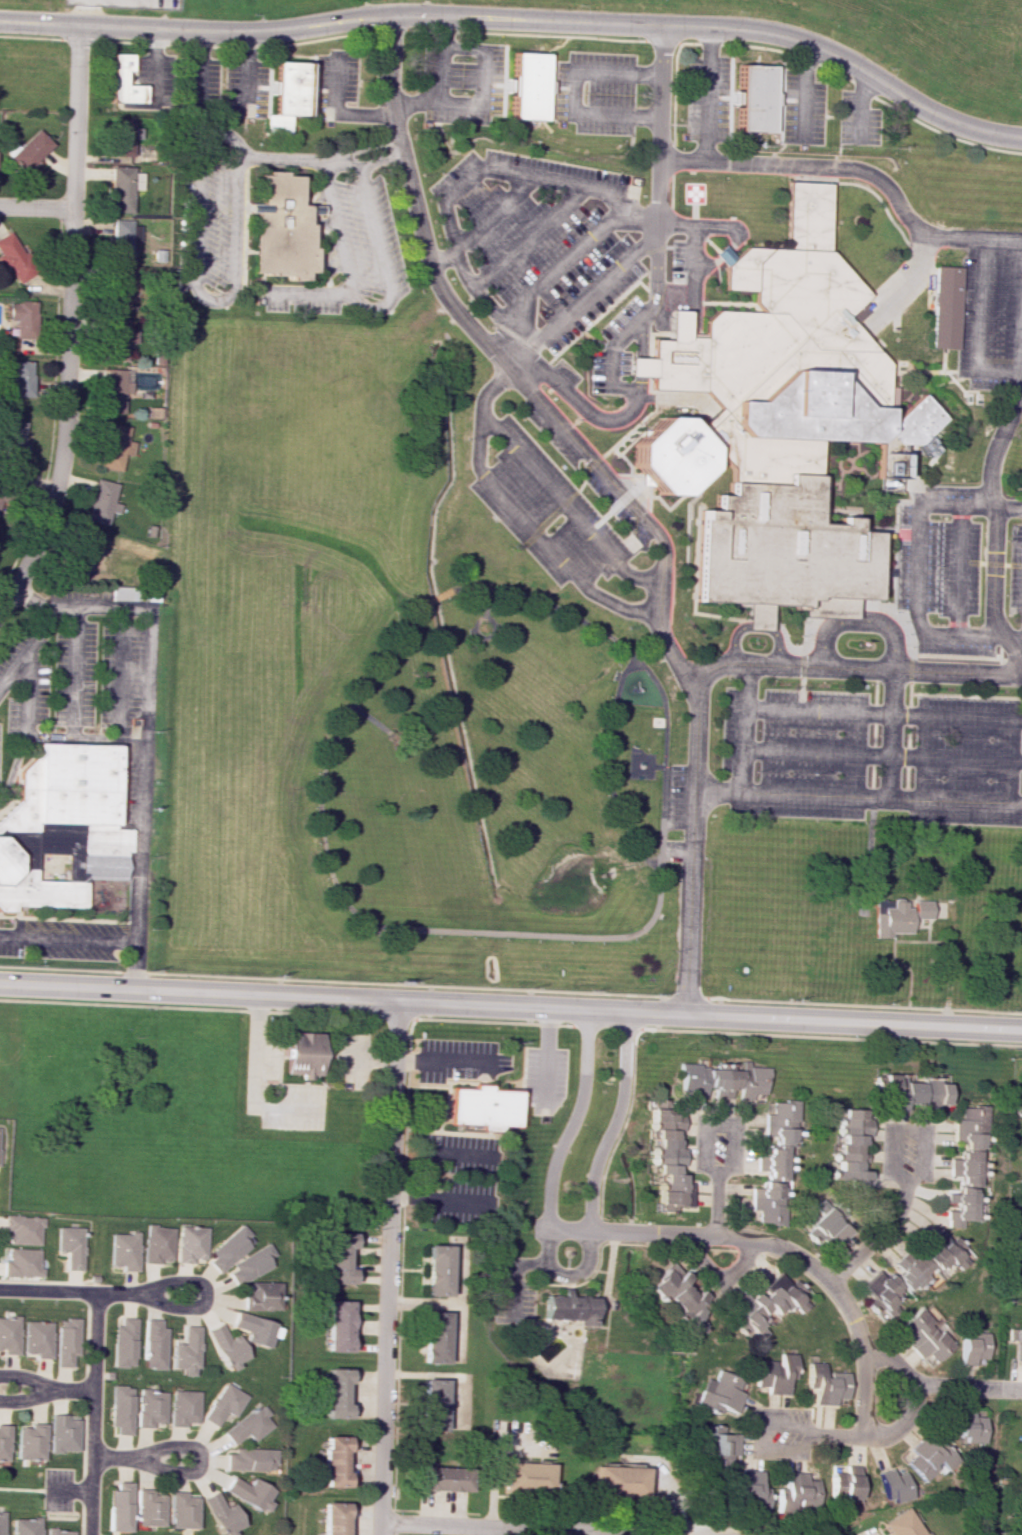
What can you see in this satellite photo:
road: (87, 12)
road: (522, 17)
road: (442, 31)
road: (31, 37)
road: (77, 39)
road: (647, 40)
road: (118, 41)
road: (154, 43)
road: (176, 44)
road: (199, 45)
road: (223, 46)
road: (243, 48)
road: (294, 55)
road: (153, 65)
road: (796, 69)
road: (483, 75)
building: (121, 80)
parking lot: (461, 82)
parking lot: (201, 84)
building: (524, 84)
parking lot: (337, 85)
road: (730, 86)
road: (803, 89)
road: (571, 91)
parking lot: (593, 91)
road: (851, 91)
road: (674, 92)
road: (708, 94)
building: (283, 95)
building: (753, 97)
parking lot: (708, 98)
road: (859, 106)
parking lot: (802, 108)
road: (219, 109)
road: (338, 109)
road: (778, 114)
road: (74, 115)
road: (831, 115)
parking lot: (857, 121)
road: (680, 123)
road: (839, 125)
building: (122, 137)
road: (361, 147)
building: (27, 150)
road: (282, 157)
road: (673, 158)
road: (363, 165)
road: (836, 169)
road: (865, 172)
road: (867, 187)
building: (120, 189)
road: (672, 192)
helipad: (697, 194)
road: (4, 205)
road: (40, 207)
parking lot: (208, 213)
road: (482, 221)
road: (694, 223)
building: (278, 227)
road: (657, 230)
road: (323, 235)
road: (527, 237)
building: (121, 238)
road: (953, 239)
road: (453, 246)
road: (674, 246)
parking lot: (546, 248)
road: (727, 250)
parking lot: (352, 254)
building: (722, 255)
building: (13, 258)
road: (713, 260)
road: (562, 267)
road: (253, 269)
road: (243, 270)
road: (194, 271)
road: (248, 278)
road: (299, 285)
road: (264, 287)
road: (672, 289)
building: (120, 291)
road: (310, 293)
road: (724, 303)
road: (693, 305)
road: (367, 308)
building: (946, 309)
road: (980, 309)
parking lot: (991, 313)
building: (22, 318)
road: (594, 319)
road: (672, 334)
building: (117, 338)
road: (588, 341)
road: (635, 341)
building: (781, 342)
road: (607, 348)
road: (629, 361)
road: (634, 368)
road: (646, 368)
road: (927, 372)
road: (950, 372)
road: (950, 375)
building: (22, 378)
road: (959, 385)
road: (902, 389)
building: (115, 390)
road: (967, 397)
road: (650, 401)
road: (54, 409)
road: (66, 415)
road: (476, 432)
building: (14, 442)
building: (891, 444)
road: (860, 445)
building: (114, 446)
road: (606, 447)
road: (617, 455)
building: (754, 455)
building: (663, 457)
road: (584, 465)
road: (822, 468)
road: (844, 471)
road: (877, 472)
building: (893, 472)
road: (912, 475)
road: (841, 476)
road: (636, 484)
road: (578, 485)
road: (879, 486)
park: (855, 488)
road: (612, 489)
road: (857, 493)
road: (689, 494)
road: (839, 498)
parking lot: (546, 501)
building: (102, 502)
road: (836, 502)
road: (689, 505)
road: (1010, 505)
road: (563, 506)
road: (669, 507)
road: (839, 510)
road: (631, 511)
road: (999, 513)
road: (546, 517)
road: (859, 527)
road: (633, 539)
building: (86, 552)
building: (773, 554)
road: (875, 568)
road: (961, 569)
parking lot: (960, 570)
road: (917, 574)
road: (878, 577)
building: (134, 593)
road: (432, 599)
road: (100, 606)
road: (43, 609)
road: (45, 627)
road: (473, 629)
road: (774, 629)
road: (1016, 637)
road: (808, 639)
road: (731, 640)
road: (895, 659)
road: (800, 662)
parking lot: (74, 663)
road: (853, 665)
road: (14, 667)
road: (874, 668)
road: (910, 668)
road: (75, 672)
road: (122, 678)
road: (799, 691)
road: (27, 692)
road: (957, 695)
road: (145, 697)
road: (881, 712)
road: (370, 717)
road: (741, 726)
road: (872, 732)
parking lot: (0, 734)
road: (50, 738)
road: (906, 741)
parking lot: (871, 747)
road: (881, 754)
road: (646, 755)
road: (13, 769)
road: (606, 769)
park: (500, 775)
road: (856, 795)
road: (869, 803)
road: (5, 805)
parking lot: (677, 807)
building: (59, 828)
road: (139, 841)
road: (88, 902)
building: (897, 916)
road: (63, 919)
road: (861, 928)
road: (574, 935)
road: (69, 936)
parking lot: (63, 939)
road: (137, 964)
road: (511, 990)
road: (511, 1006)
road: (190, 1007)
road: (397, 1018)
road: (458, 1020)
road: (605, 1028)
road: (731, 1033)
road: (544, 1052)
building: (303, 1054)
road: (362, 1059)
road: (439, 1061)
road: (354, 1066)
building: (722, 1081)
road: (446, 1082)
road: (255, 1085)
building: (917, 1092)
building: (482, 1107)
road: (573, 1121)
road: (611, 1122)
road: (726, 1124)
road: (911, 1130)
road: (454, 1133)
building: (0, 1137)
building: (971, 1144)
building: (851, 1150)
road: (436, 1152)
building: (668, 1160)
road: (438, 1199)
road: (717, 1203)
building: (827, 1227)
building: (24, 1229)
road: (880, 1235)
road: (615, 1242)
building: (191, 1243)
building: (158, 1244)
road: (778, 1244)
building: (72, 1246)
building: (229, 1249)
building: (125, 1250)
building: (338, 1258)
building: (23, 1263)
building: (251, 1264)
road: (607, 1266)
road: (387, 1267)
building: (436, 1270)
road: (600, 1271)
road: (721, 1273)
building: (913, 1273)
road: (566, 1275)
road: (516, 1277)
road: (400, 1278)
road: (70, 1292)
road: (205, 1295)
building: (260, 1296)
building: (679, 1298)
road: (457, 1305)
building: (765, 1305)
building: (570, 1308)
road: (837, 1309)
building: (337, 1325)
building: (253, 1328)
road: (607, 1328)
road: (457, 1331)
building: (10, 1334)
building: (924, 1335)
building: (434, 1337)
building: (39, 1338)
park: (576, 1338)
building: (67, 1342)
building: (1016, 1342)
building: (125, 1343)
building: (154, 1344)
building: (226, 1347)
building: (974, 1349)
building: (186, 1351)
road: (578, 1361)
road: (557, 1364)
building: (775, 1373)
road: (444, 1376)
road: (25, 1377)
building: (826, 1384)
road: (968, 1386)
road: (70, 1390)
park: (625, 1391)
building: (335, 1393)
building: (719, 1394)
road: (914, 1397)
road: (24, 1400)
building: (224, 1404)
building: (433, 1406)
building: (184, 1407)
building: (151, 1408)
building: (122, 1409)
road: (93, 1414)
building: (248, 1425)
building: (969, 1426)
building: (64, 1433)
road: (822, 1435)
road: (762, 1439)
building: (4, 1442)
building: (31, 1442)
building: (716, 1443)
road: (184, 1447)
building: (928, 1458)
building: (250, 1459)
road: (495, 1459)
building: (333, 1461)
building: (528, 1475)
building: (443, 1478)
building: (619, 1481)
building: (844, 1483)
road: (664, 1486)
building: (893, 1486)
building: (750, 1489)
road: (70, 1491)
building: (798, 1491)
building: (249, 1493)
building: (120, 1507)
building: (149, 1508)
building: (182, 1510)
road: (436, 1512)
building: (223, 1515)
building: (332, 1518)
building: (2, 1523)
building: (901, 1524)
road: (505, 1525)
building: (27, 1526)
road: (491, 1530)
building: (60, 1532)
road: (582, 1532)

